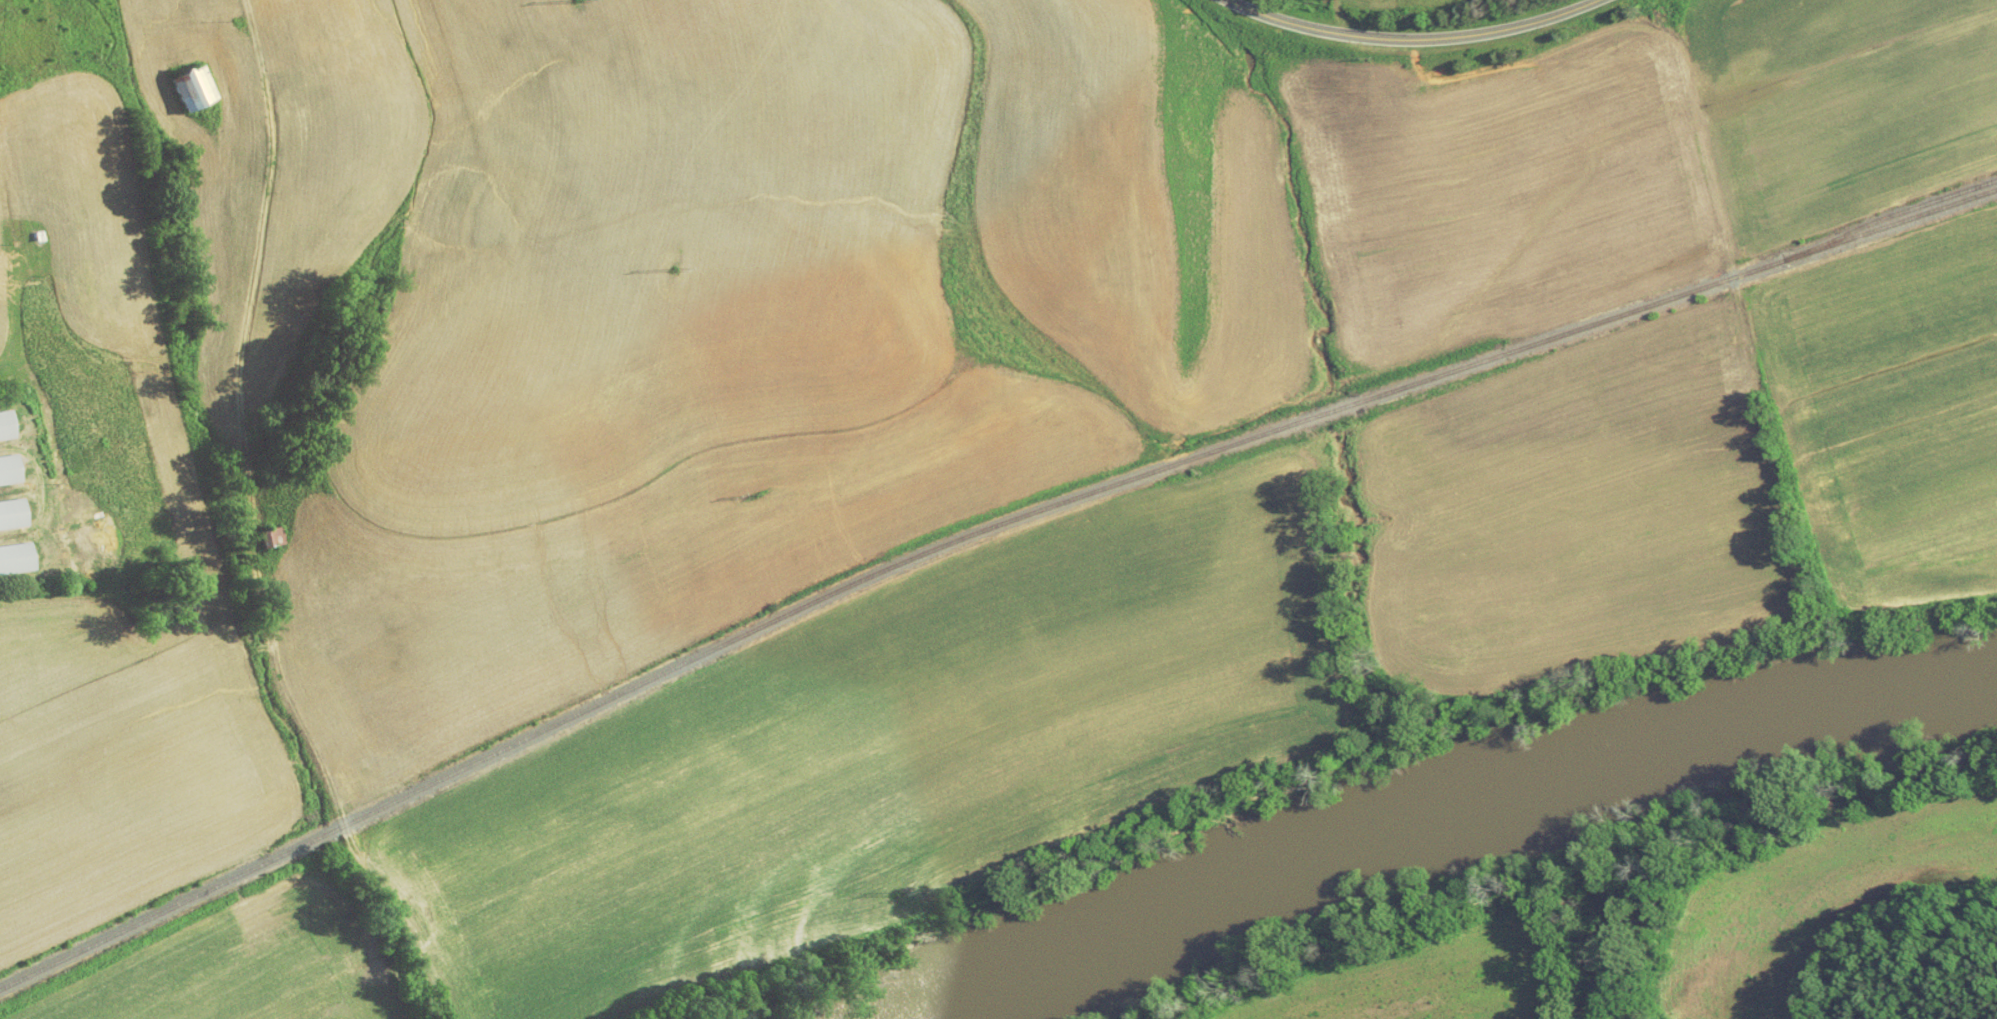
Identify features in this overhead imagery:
road: (1410, 40)
building: (184, 83)
railway: (1894, 212)
railway: (1678, 294)
railway: (1328, 411)
building: (1, 422)
building: (4, 465)
building: (7, 508)
building: (261, 530)
building: (11, 554)
railway: (639, 681)
river: (1450, 815)

